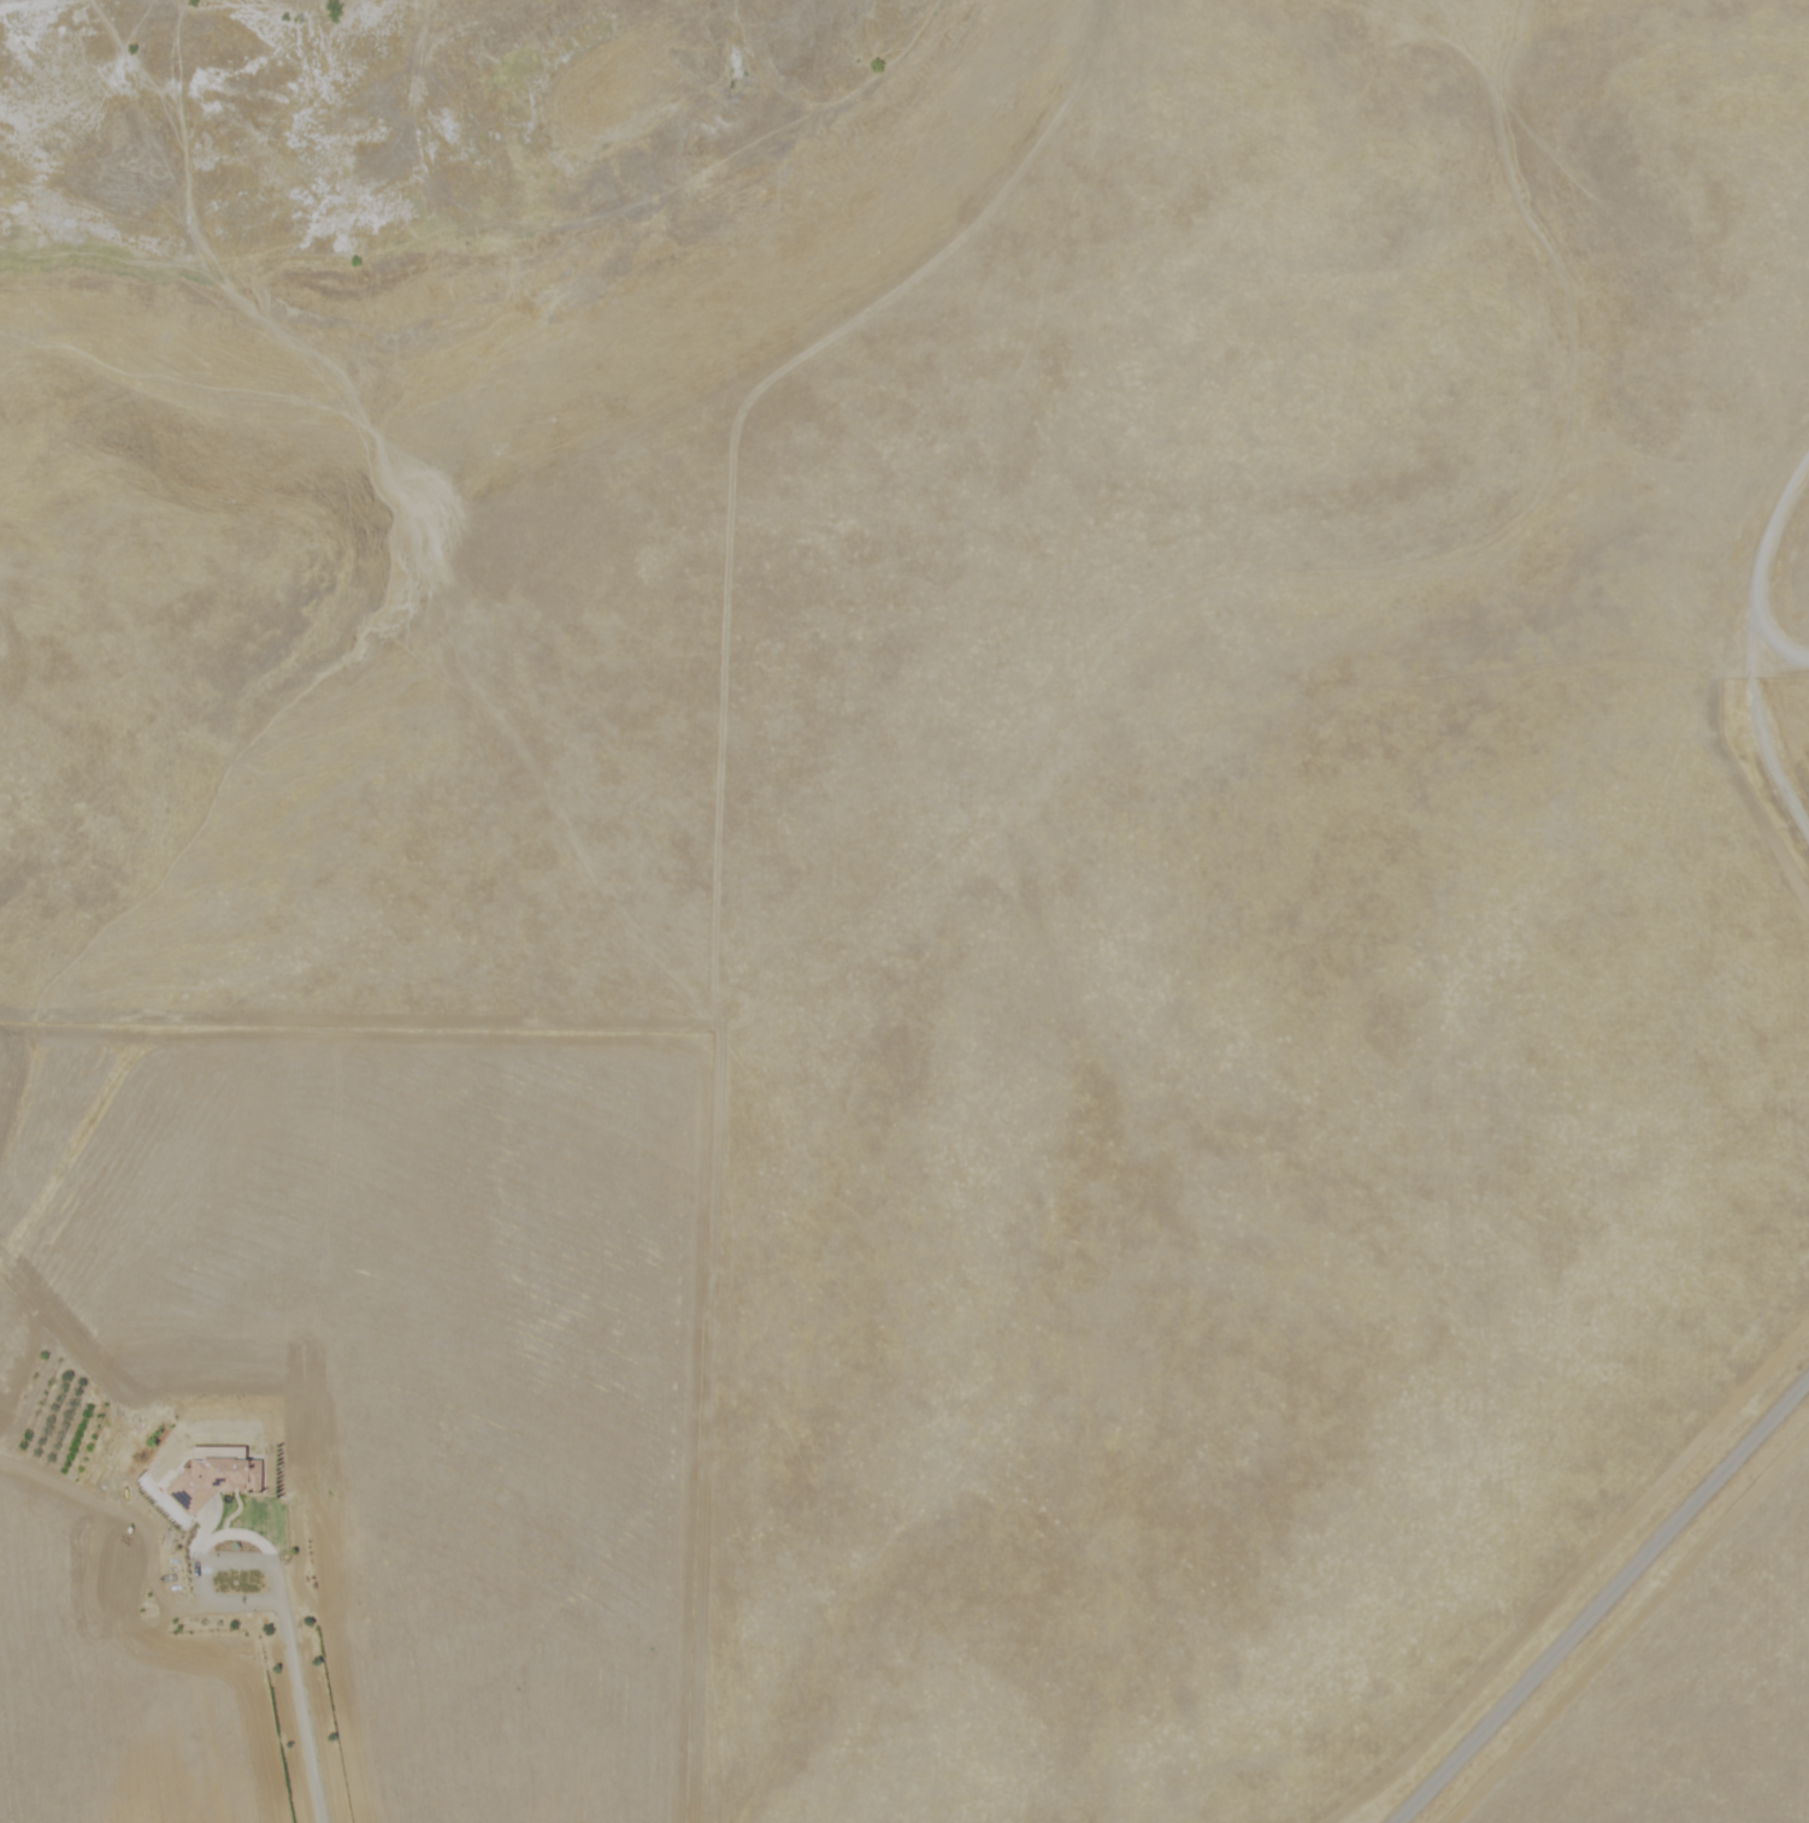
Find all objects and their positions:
quarry: (396, 144)
road: (1761, 653)
road: (1785, 661)
building: (207, 1474)
road: (201, 1553)
road: (1598, 1595)
road: (301, 1713)

